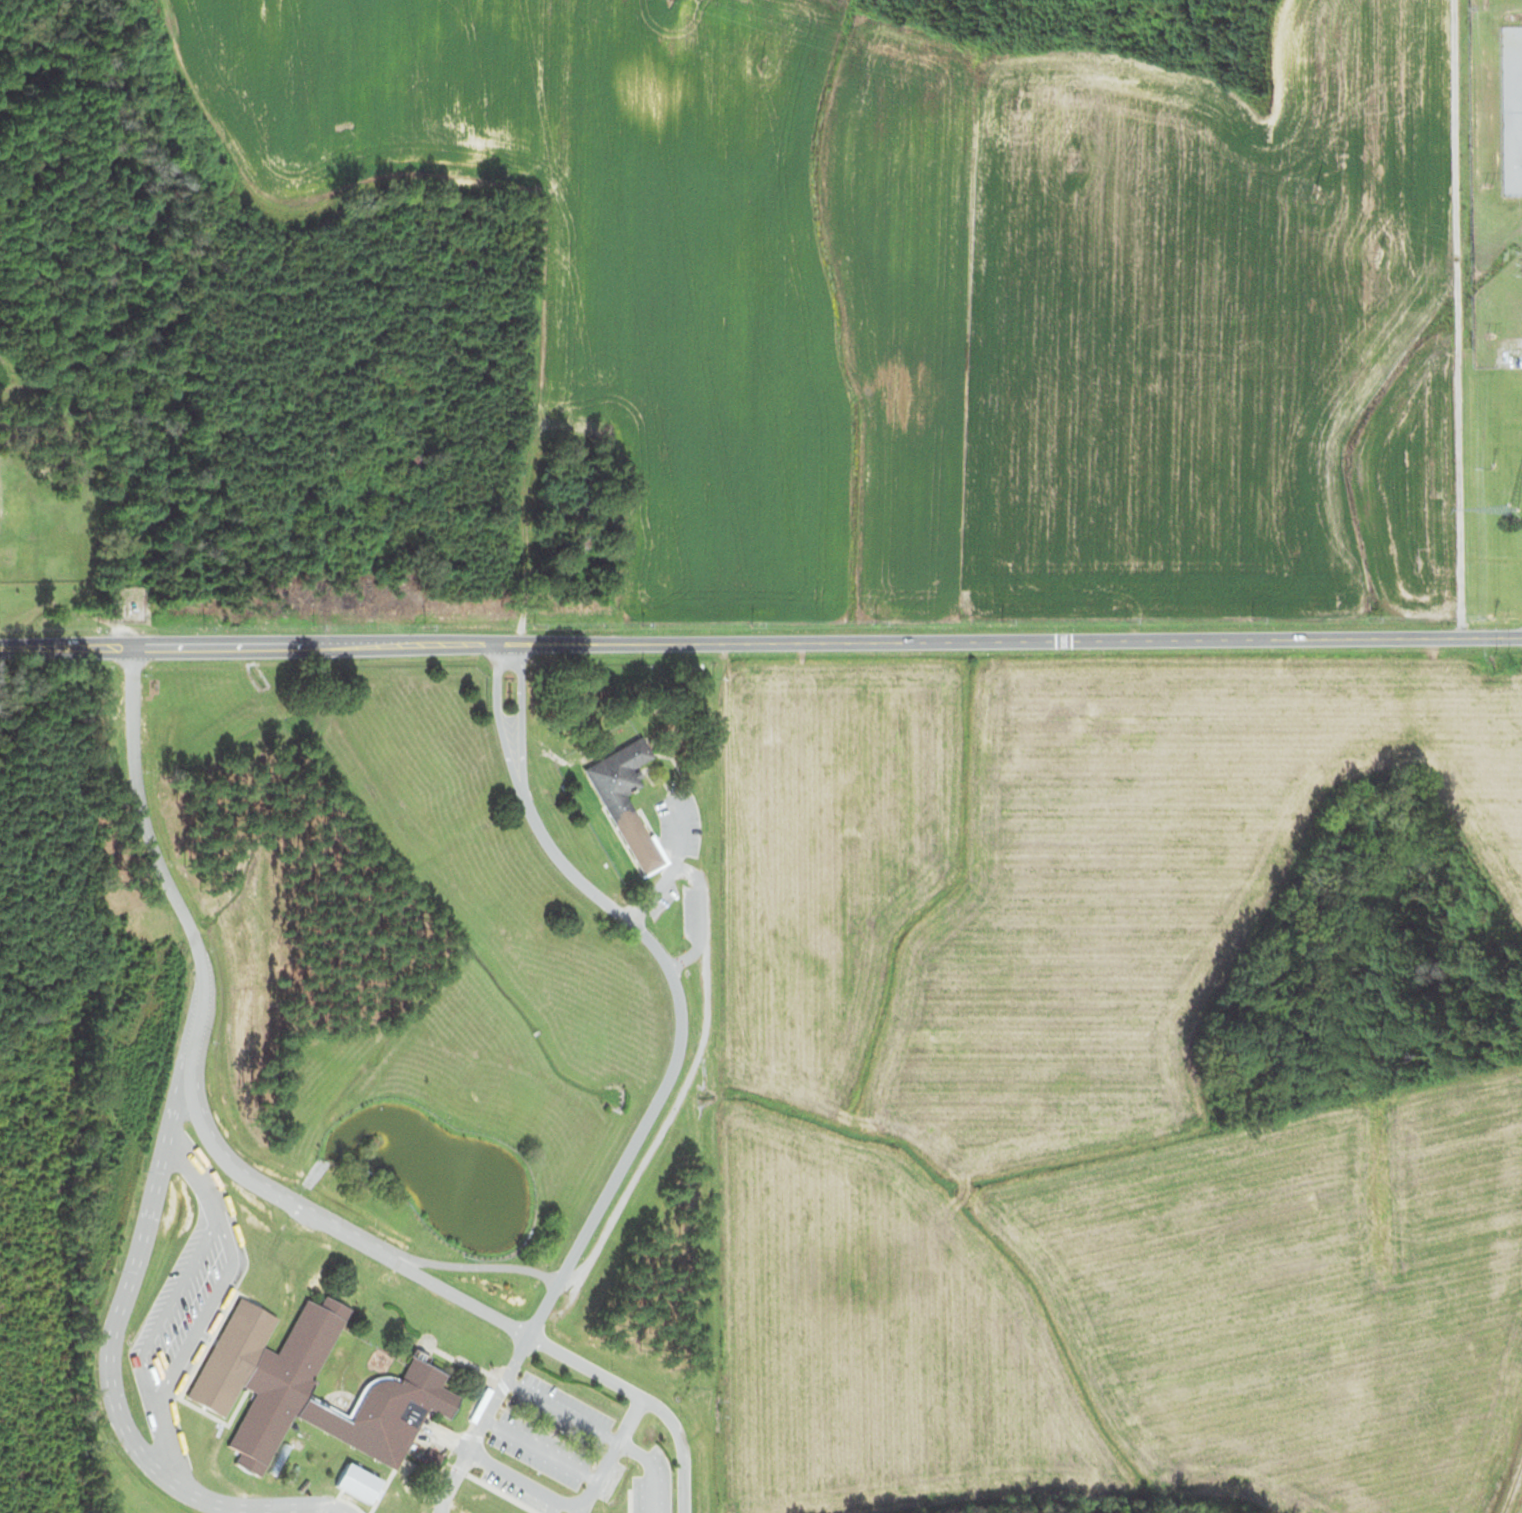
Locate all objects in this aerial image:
power tower: (1020, 100)
power substation: (1509, 108)
power tower: (1314, 192)
building: (574, 545)
road: (1455, 641)
road: (694, 642)
building: (614, 777)
road: (597, 1204)
building: (401, 1382)
road: (1510, 1478)

